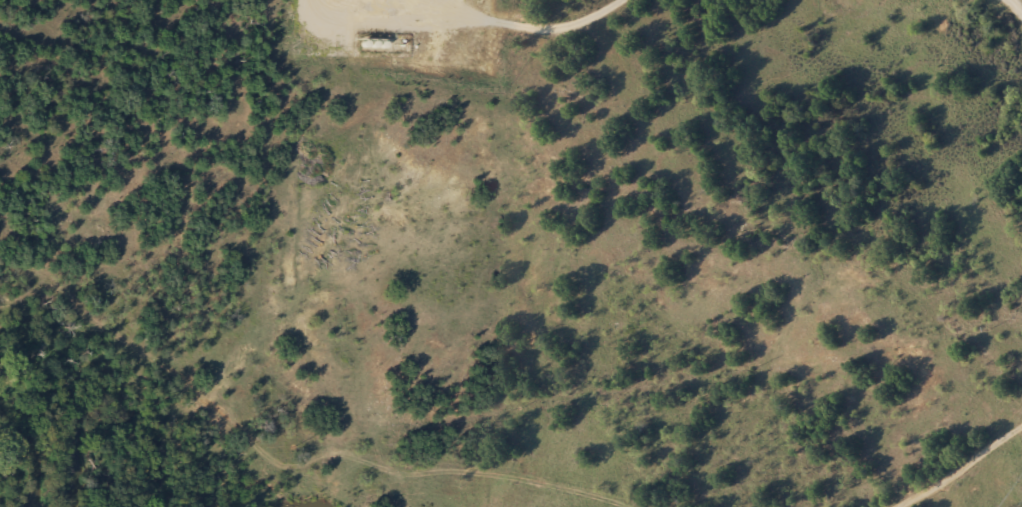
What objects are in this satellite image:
road: (882, 431)

